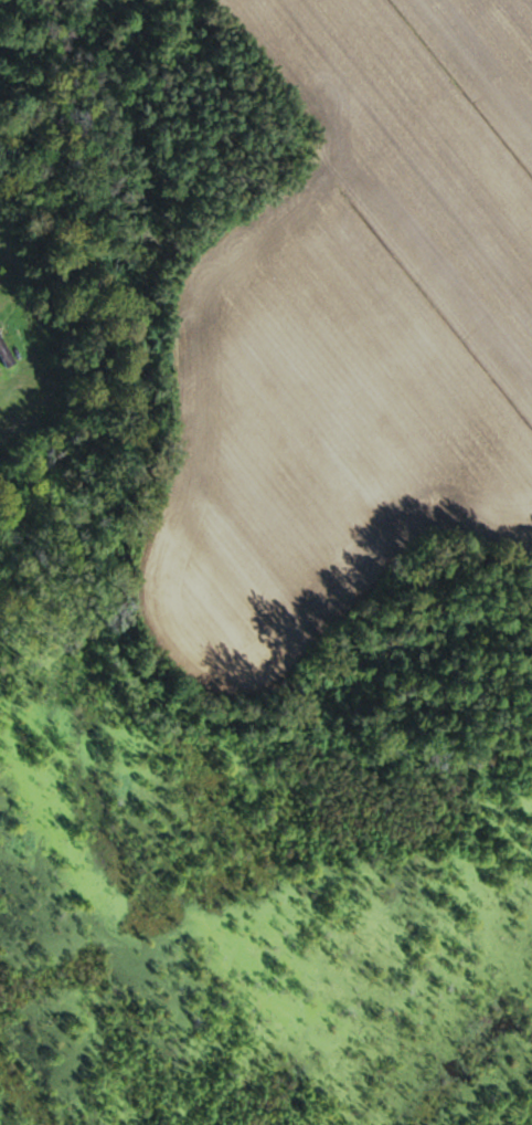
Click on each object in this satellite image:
building: (4, 356)

